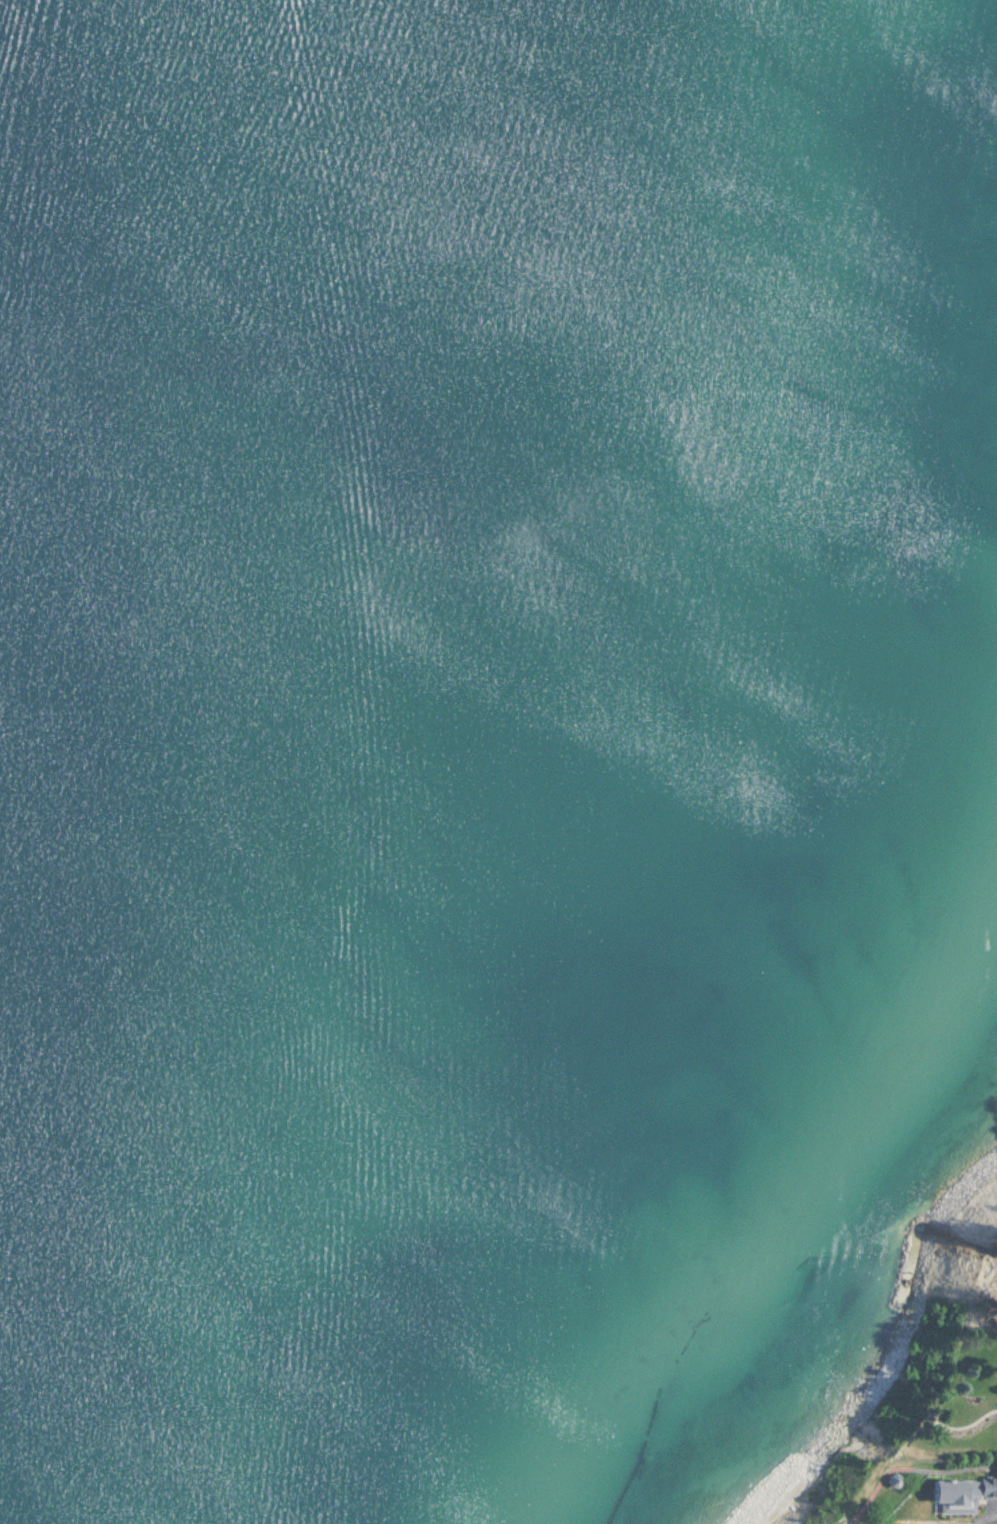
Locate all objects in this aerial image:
building: (959, 1493)

